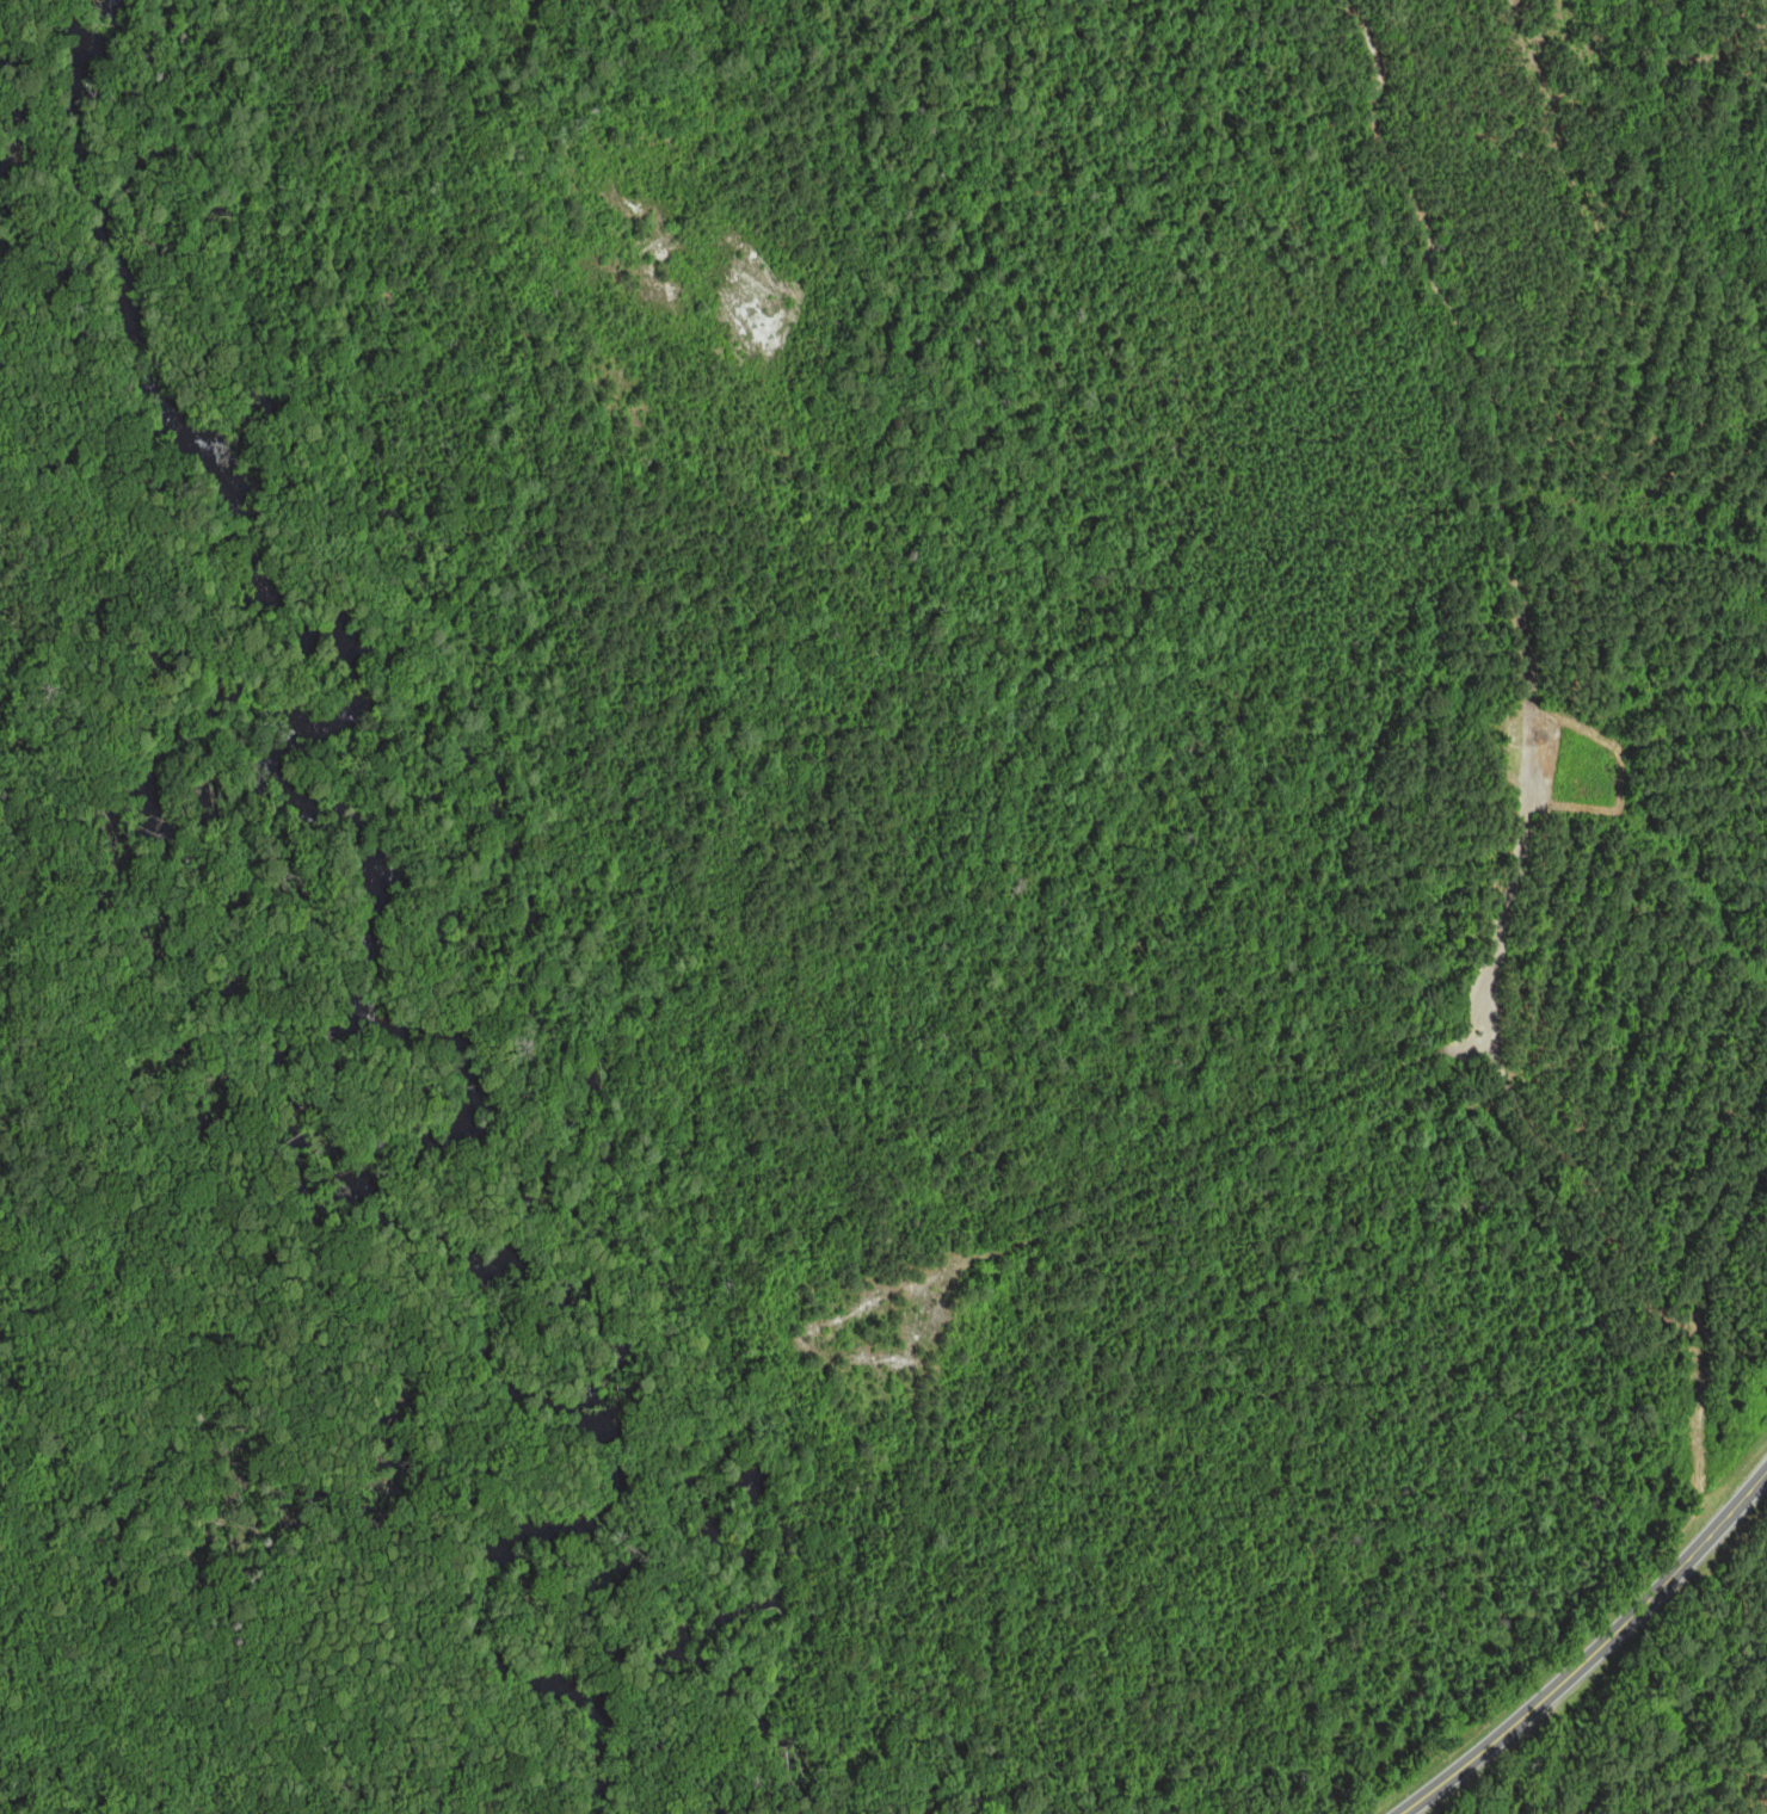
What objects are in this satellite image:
park: (88, 470)
road: (24, 567)
river: (375, 852)
road: (1593, 1652)

